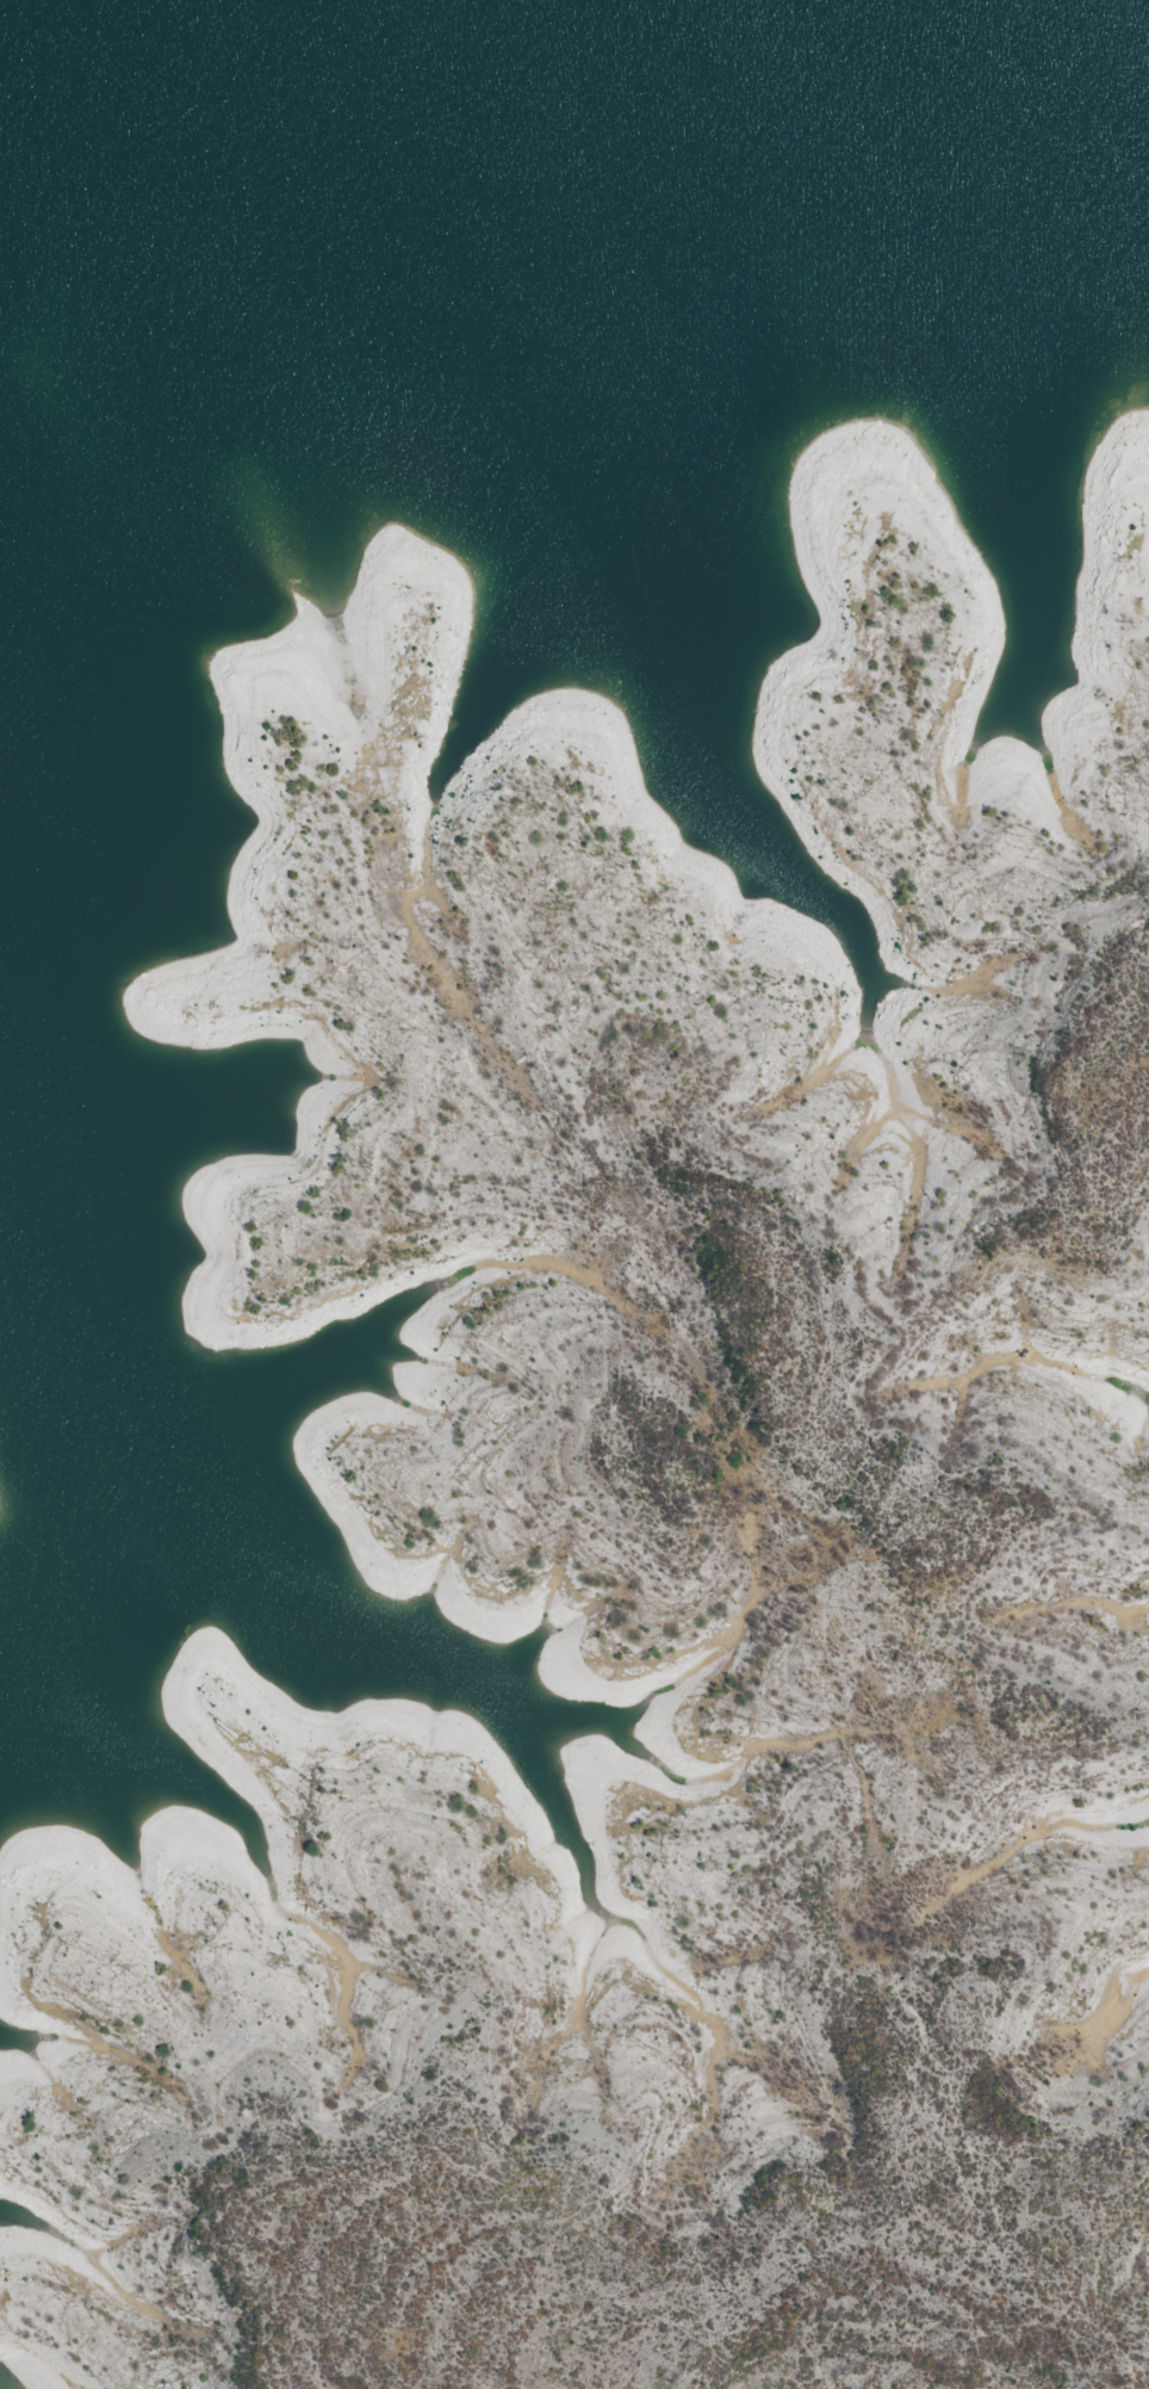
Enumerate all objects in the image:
park: (5, 1617)

